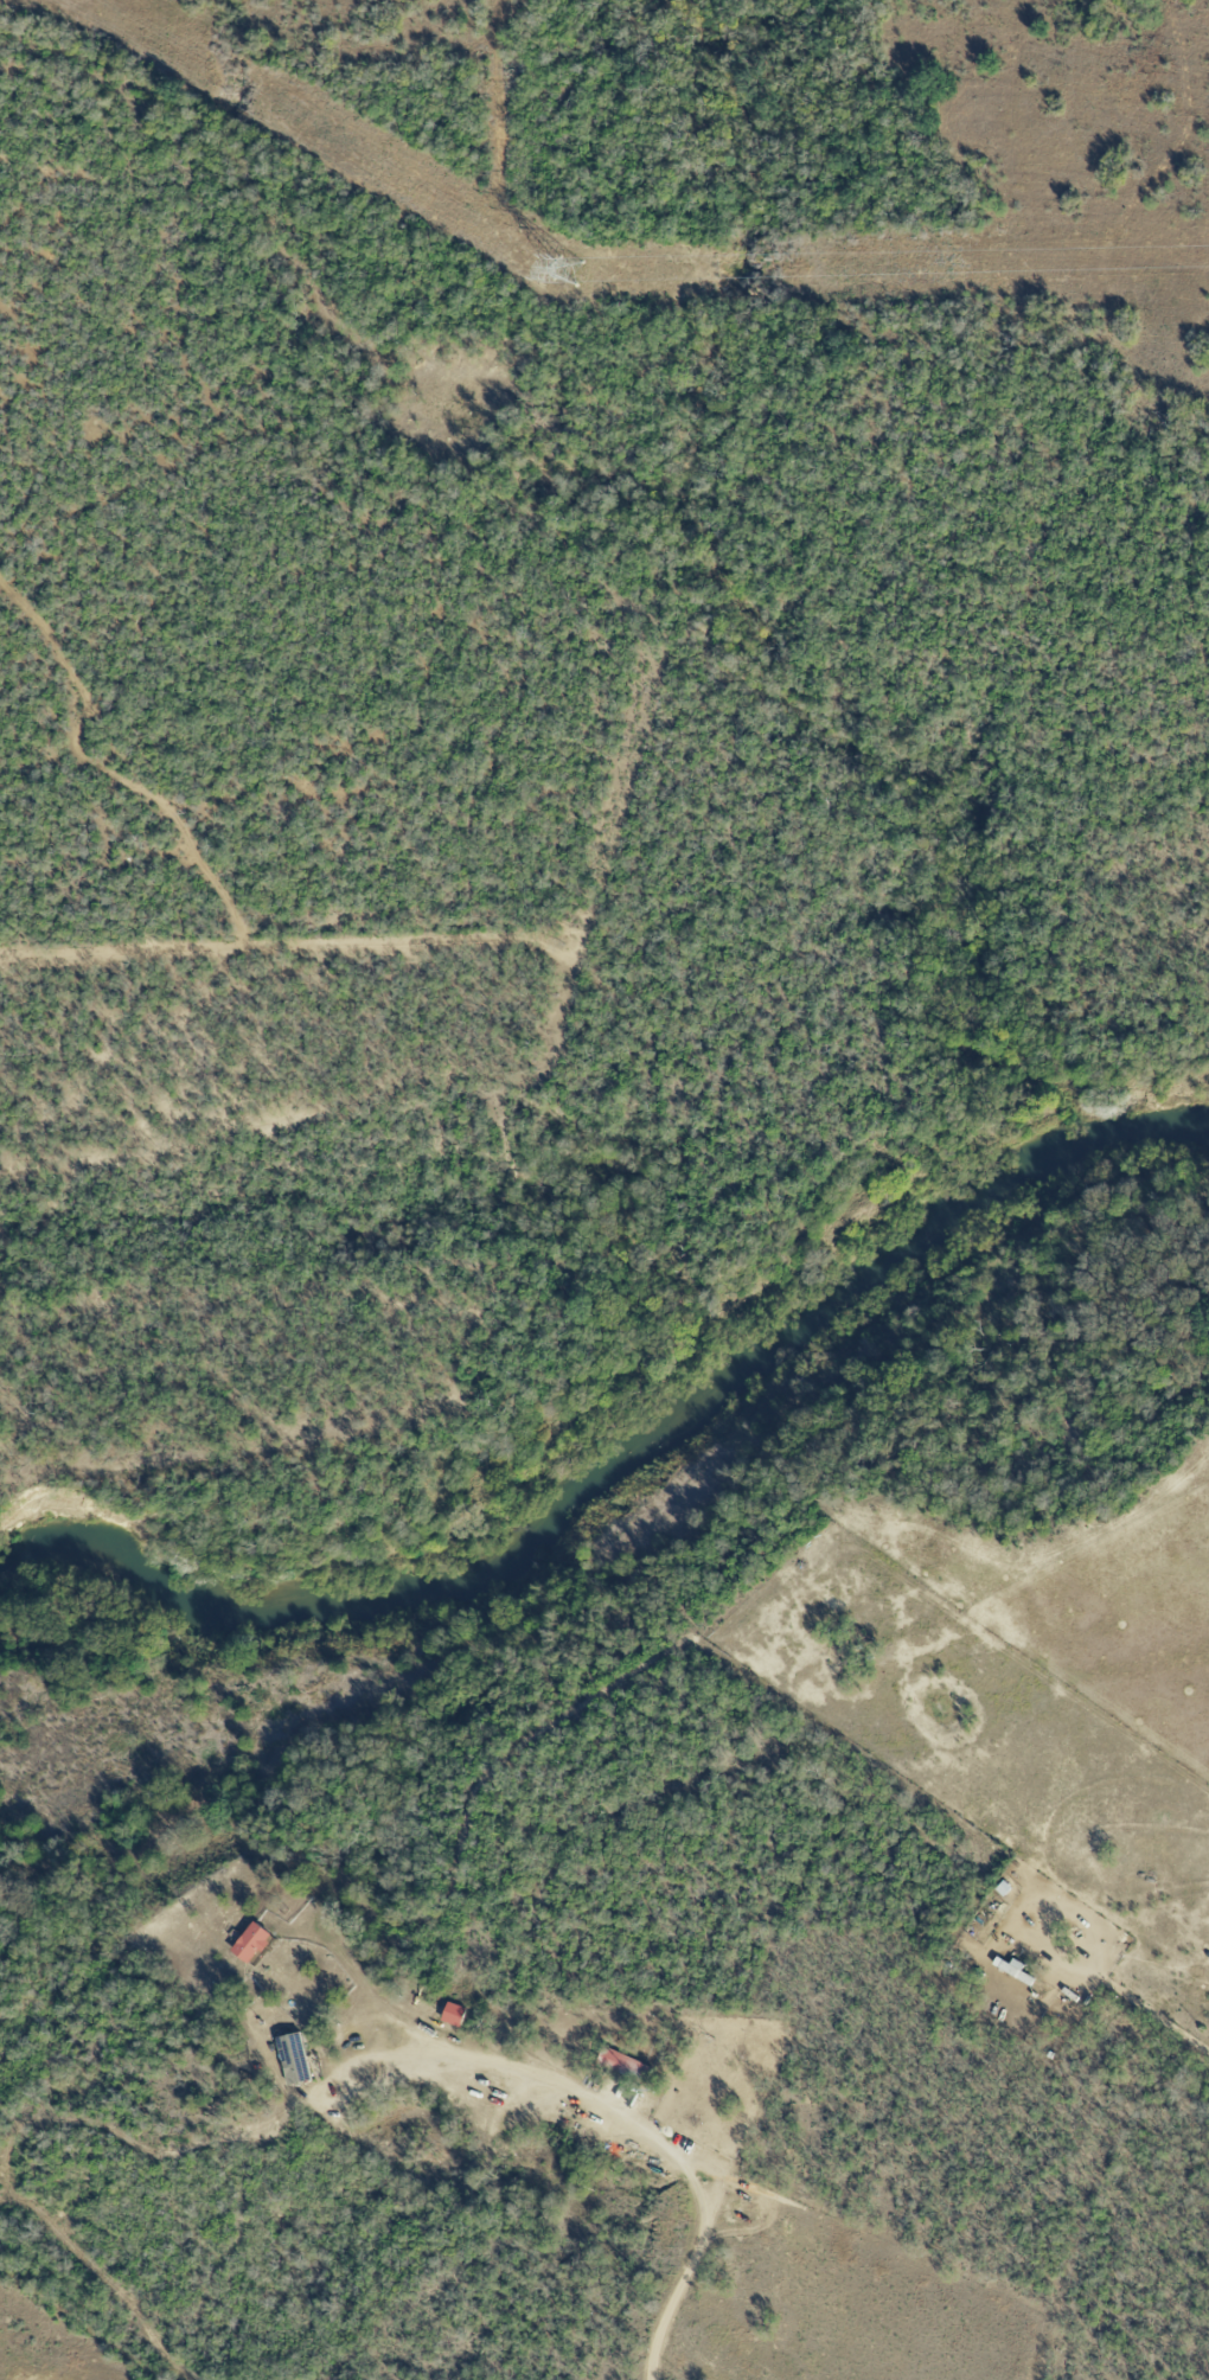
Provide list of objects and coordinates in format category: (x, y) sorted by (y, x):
power tower: (564, 269)
river: (619, 1452)
building: (250, 1941)
building: (453, 2013)
road: (1164, 2020)
building: (293, 2058)
building: (623, 2064)
road: (659, 2144)

